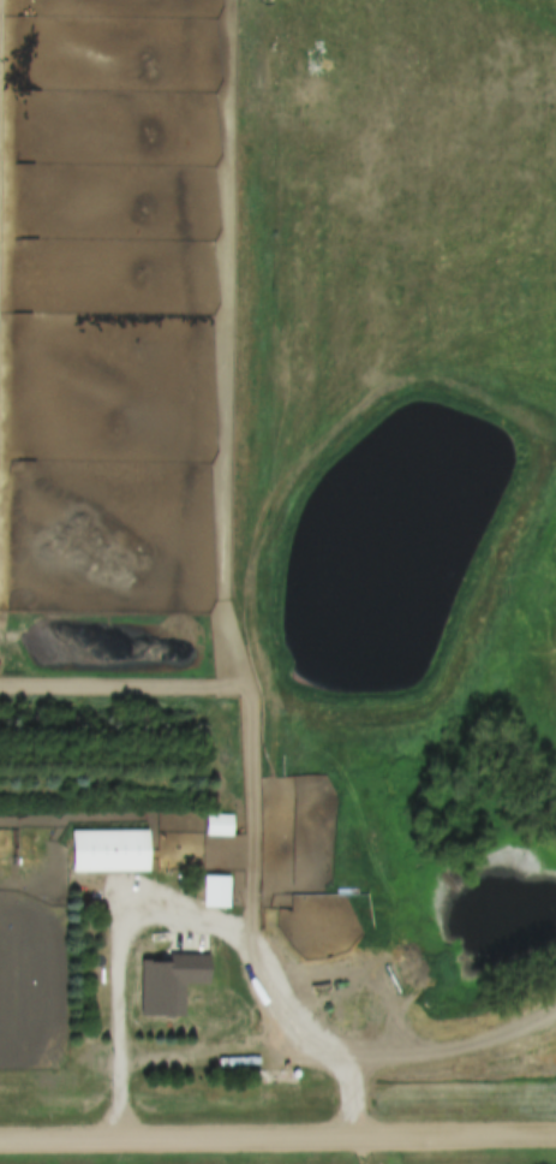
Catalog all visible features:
building: (222, 826)
building: (113, 850)
building: (219, 891)
road: (119, 1022)
road: (277, 1142)

